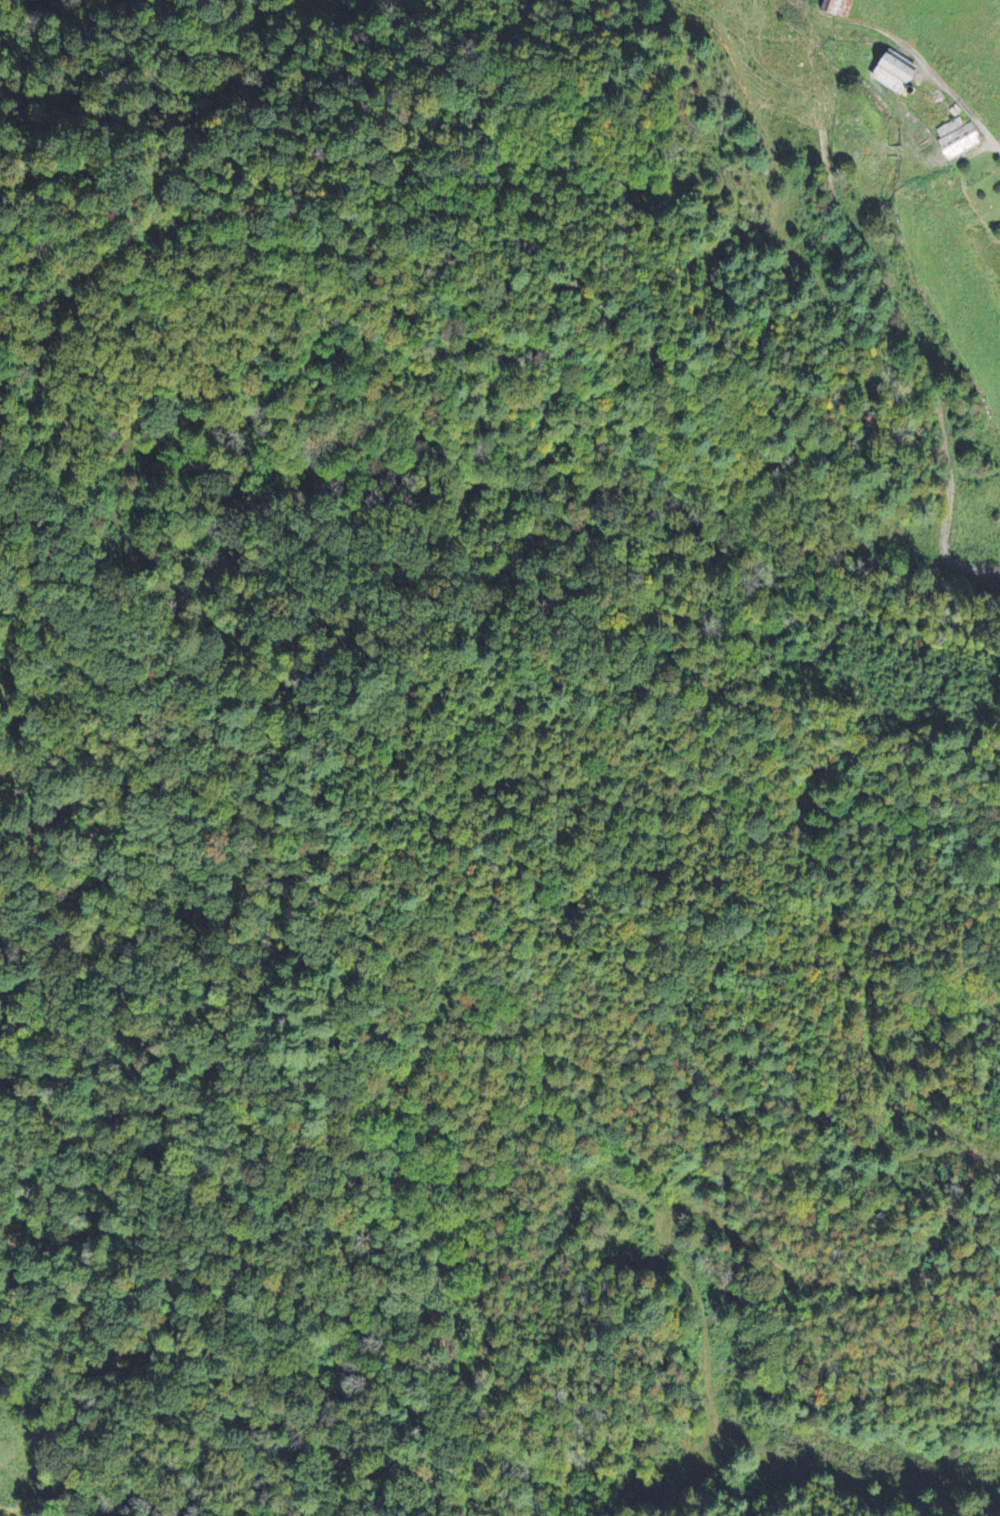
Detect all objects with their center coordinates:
building: (836, 7)
building: (890, 70)
road: (933, 75)
building: (958, 141)

